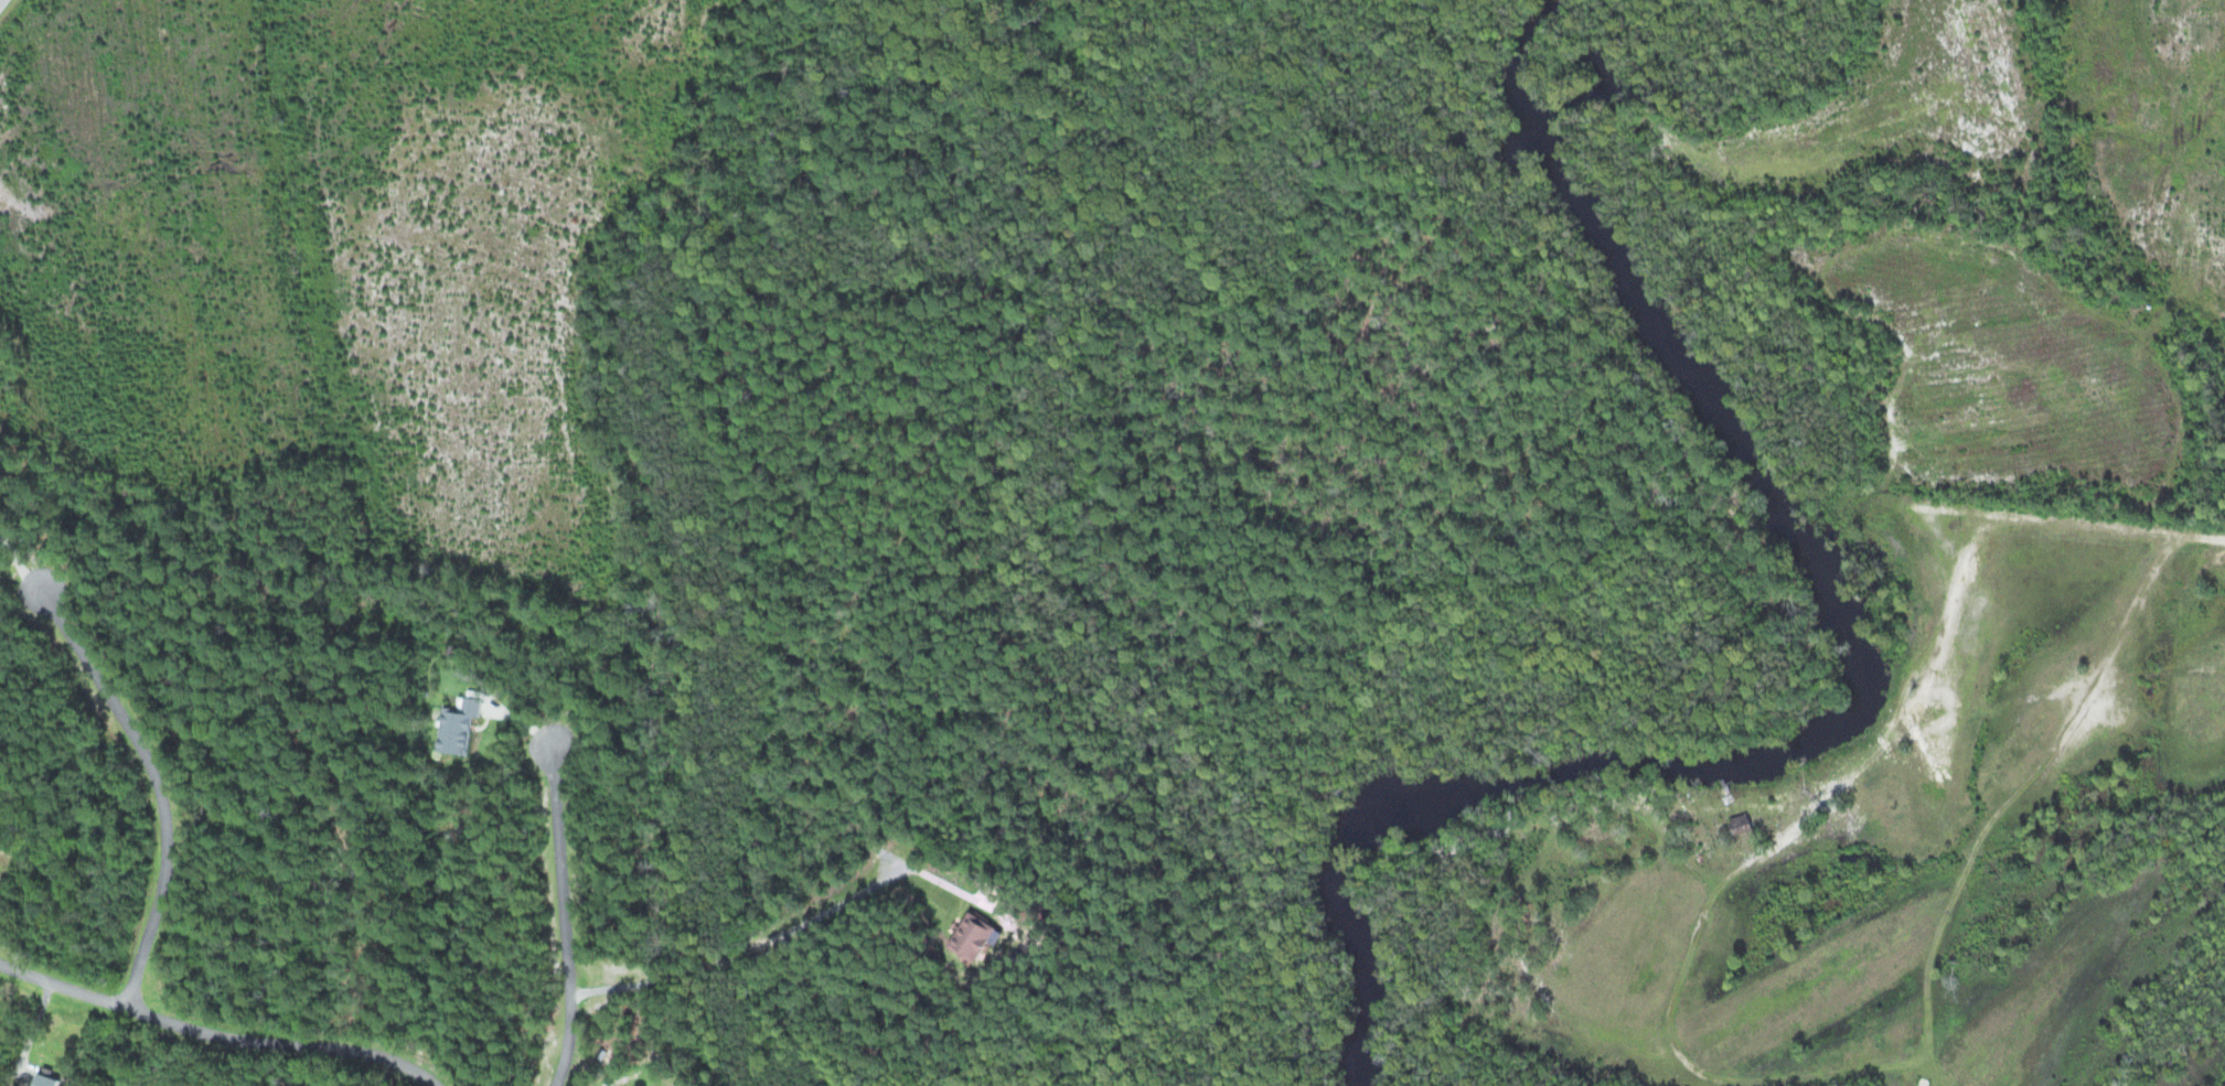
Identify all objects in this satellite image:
road: (1, 1)
building: (468, 725)
road: (149, 779)
building: (1751, 822)
road: (570, 916)
road: (208, 1023)
building: (53, 1079)

